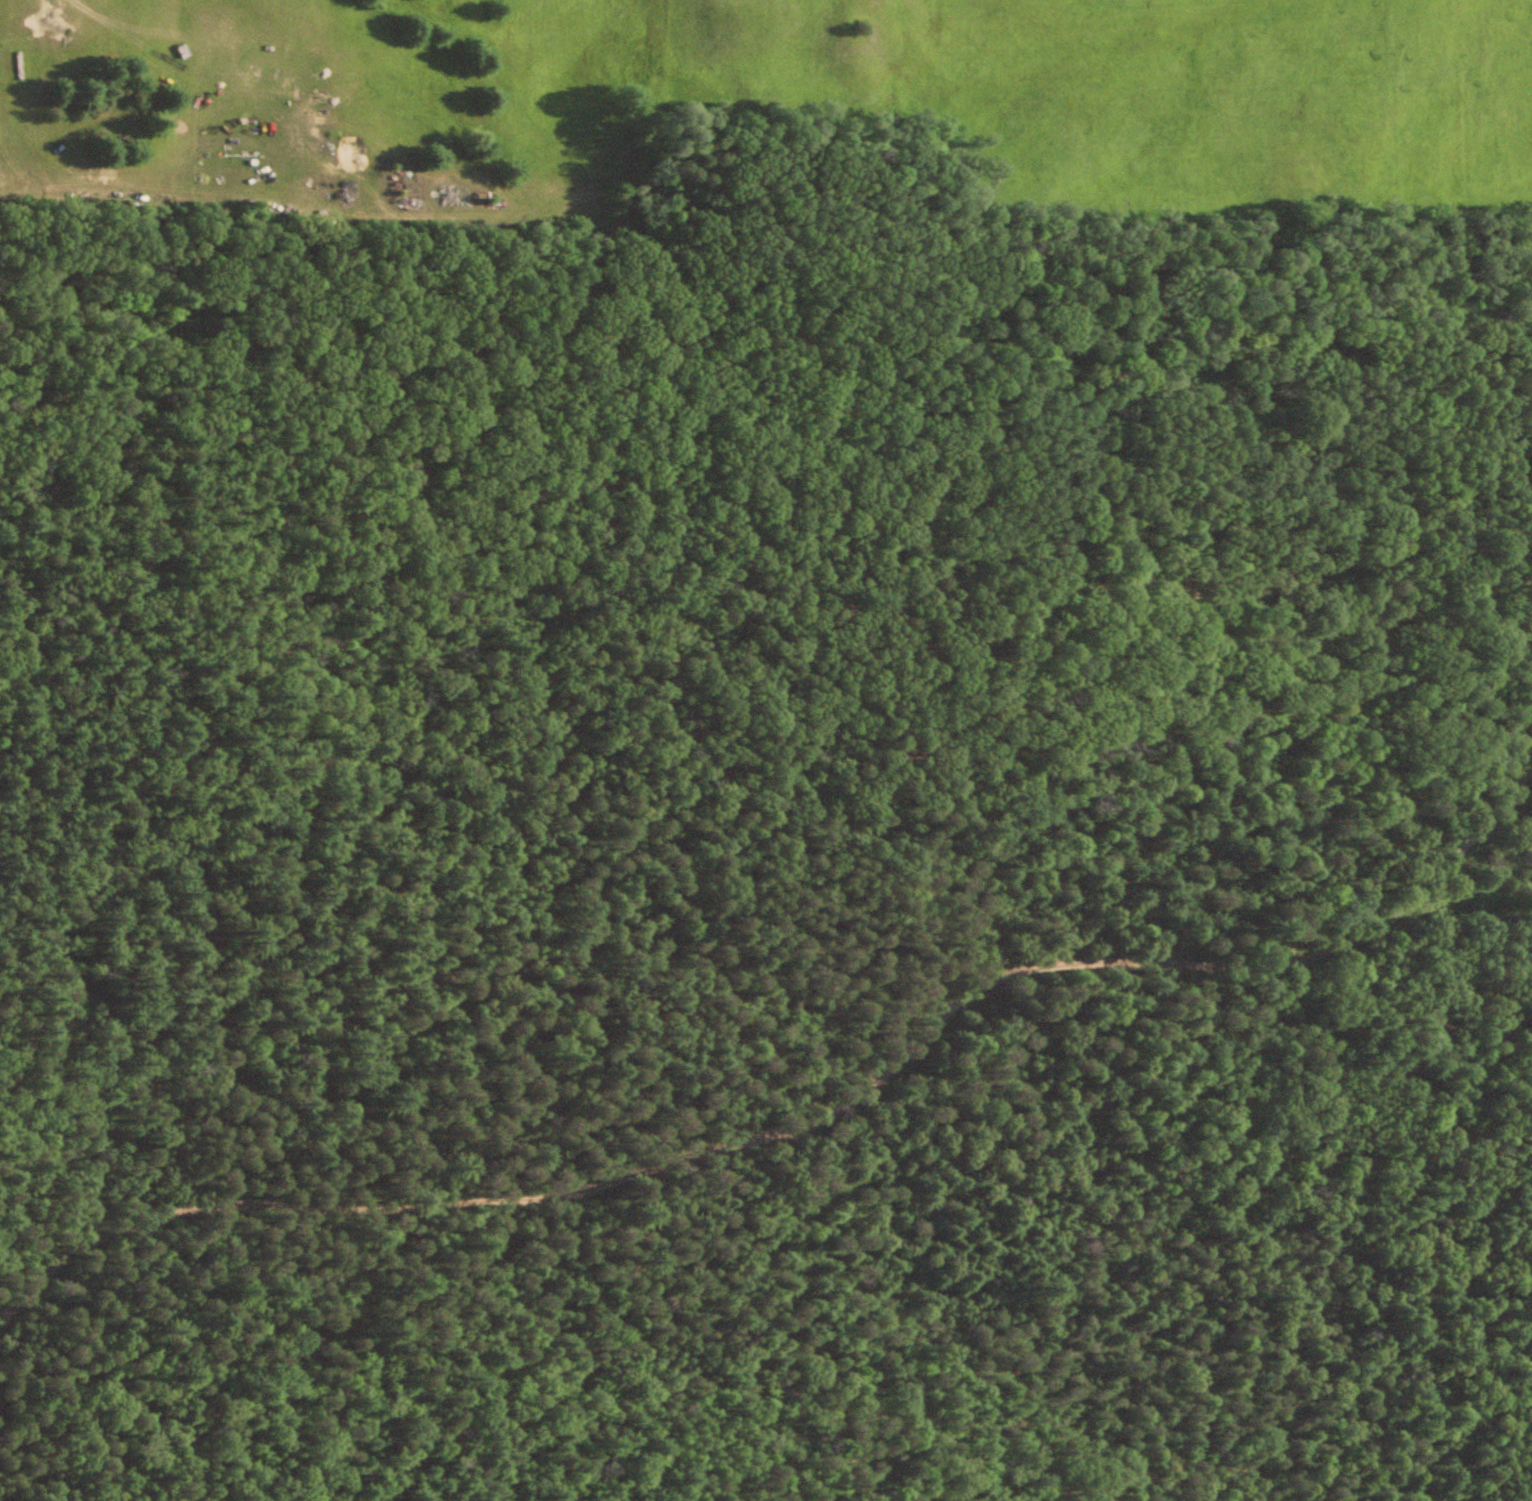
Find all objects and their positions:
road: (1395, 1004)
road: (799, 1127)

